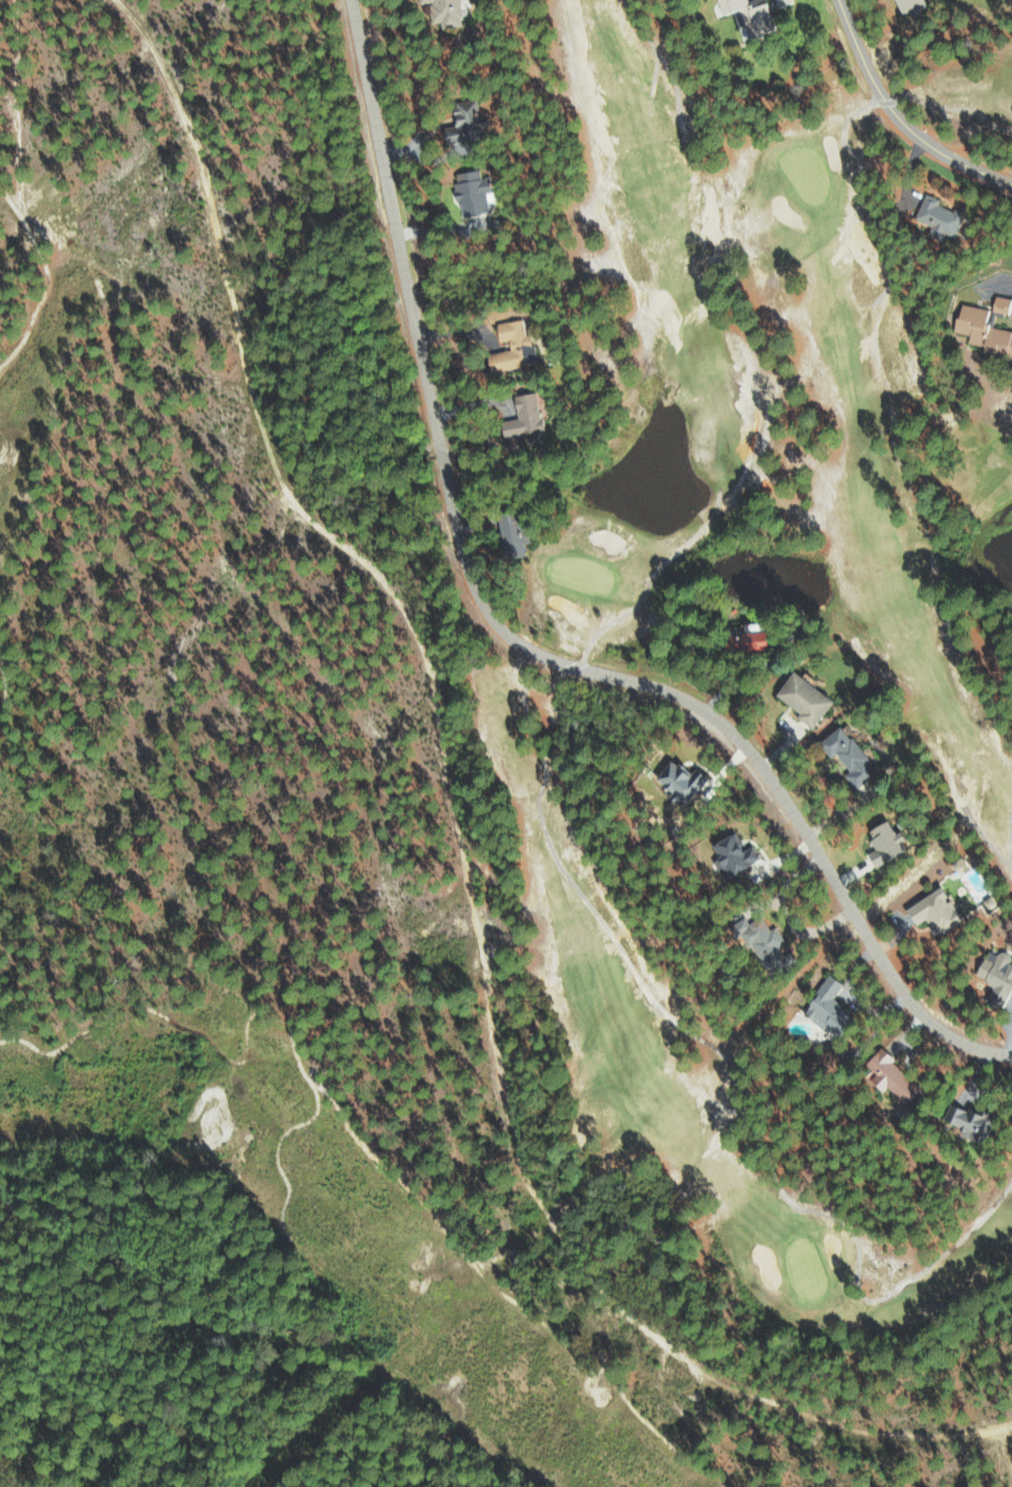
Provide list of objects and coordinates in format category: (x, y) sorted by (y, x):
building: (781, 2)
building: (908, 6)
building: (442, 11)
building: (747, 13)
road: (899, 117)
building: (463, 122)
building: (468, 192)
building: (936, 217)
building: (1000, 304)
building: (982, 333)
building: (510, 347)
park: (43, 365)
building: (521, 417)
building: (509, 535)
building: (740, 642)
road: (516, 643)
park: (513, 694)
building: (802, 699)
building: (846, 756)
building: (678, 782)
building: (880, 843)
building: (731, 855)
building: (931, 912)
building: (758, 940)
building: (994, 976)
building: (825, 1008)
building: (888, 1076)
building: (965, 1120)
park: (264, 1280)

